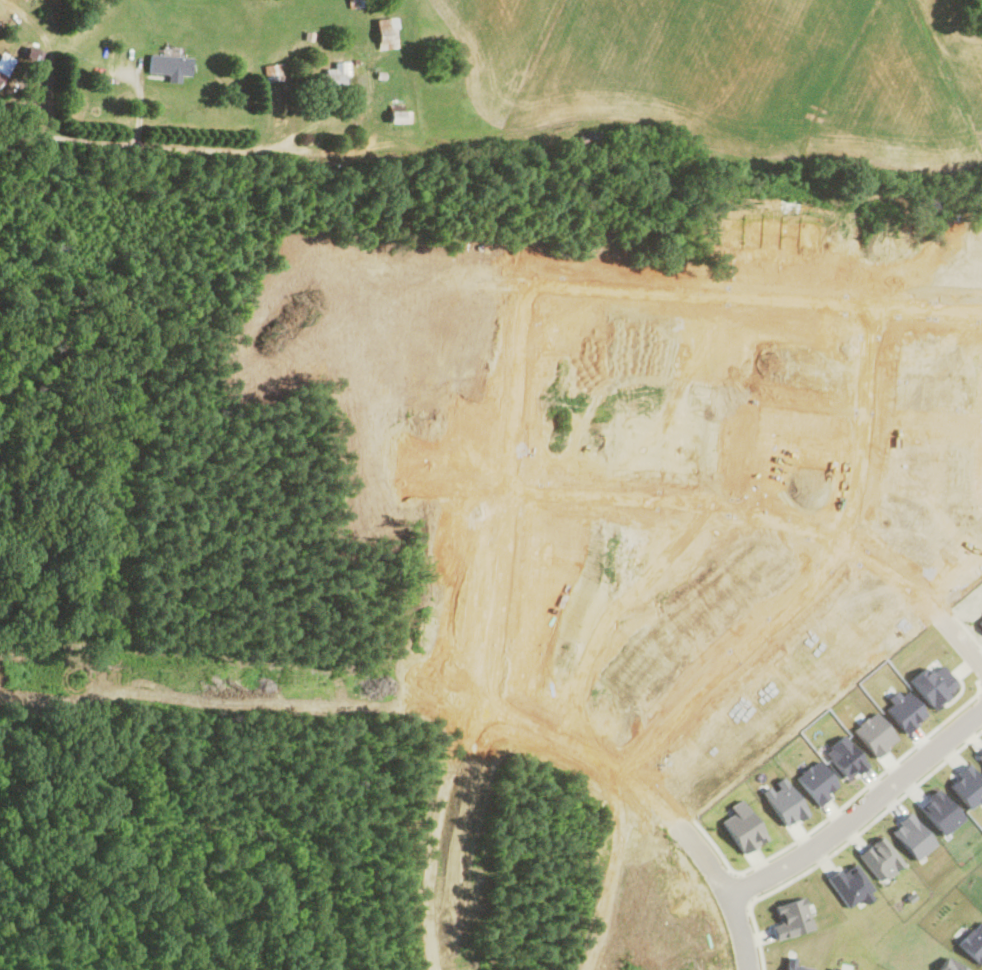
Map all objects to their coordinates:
building: (358, 3)
building: (385, 33)
road: (50, 56)
building: (169, 65)
building: (2, 67)
building: (272, 71)
building: (333, 77)
building: (398, 115)
building: (589, 139)
road: (265, 148)
road: (776, 301)
road: (809, 529)
road: (843, 530)
road: (861, 811)
road: (684, 827)

